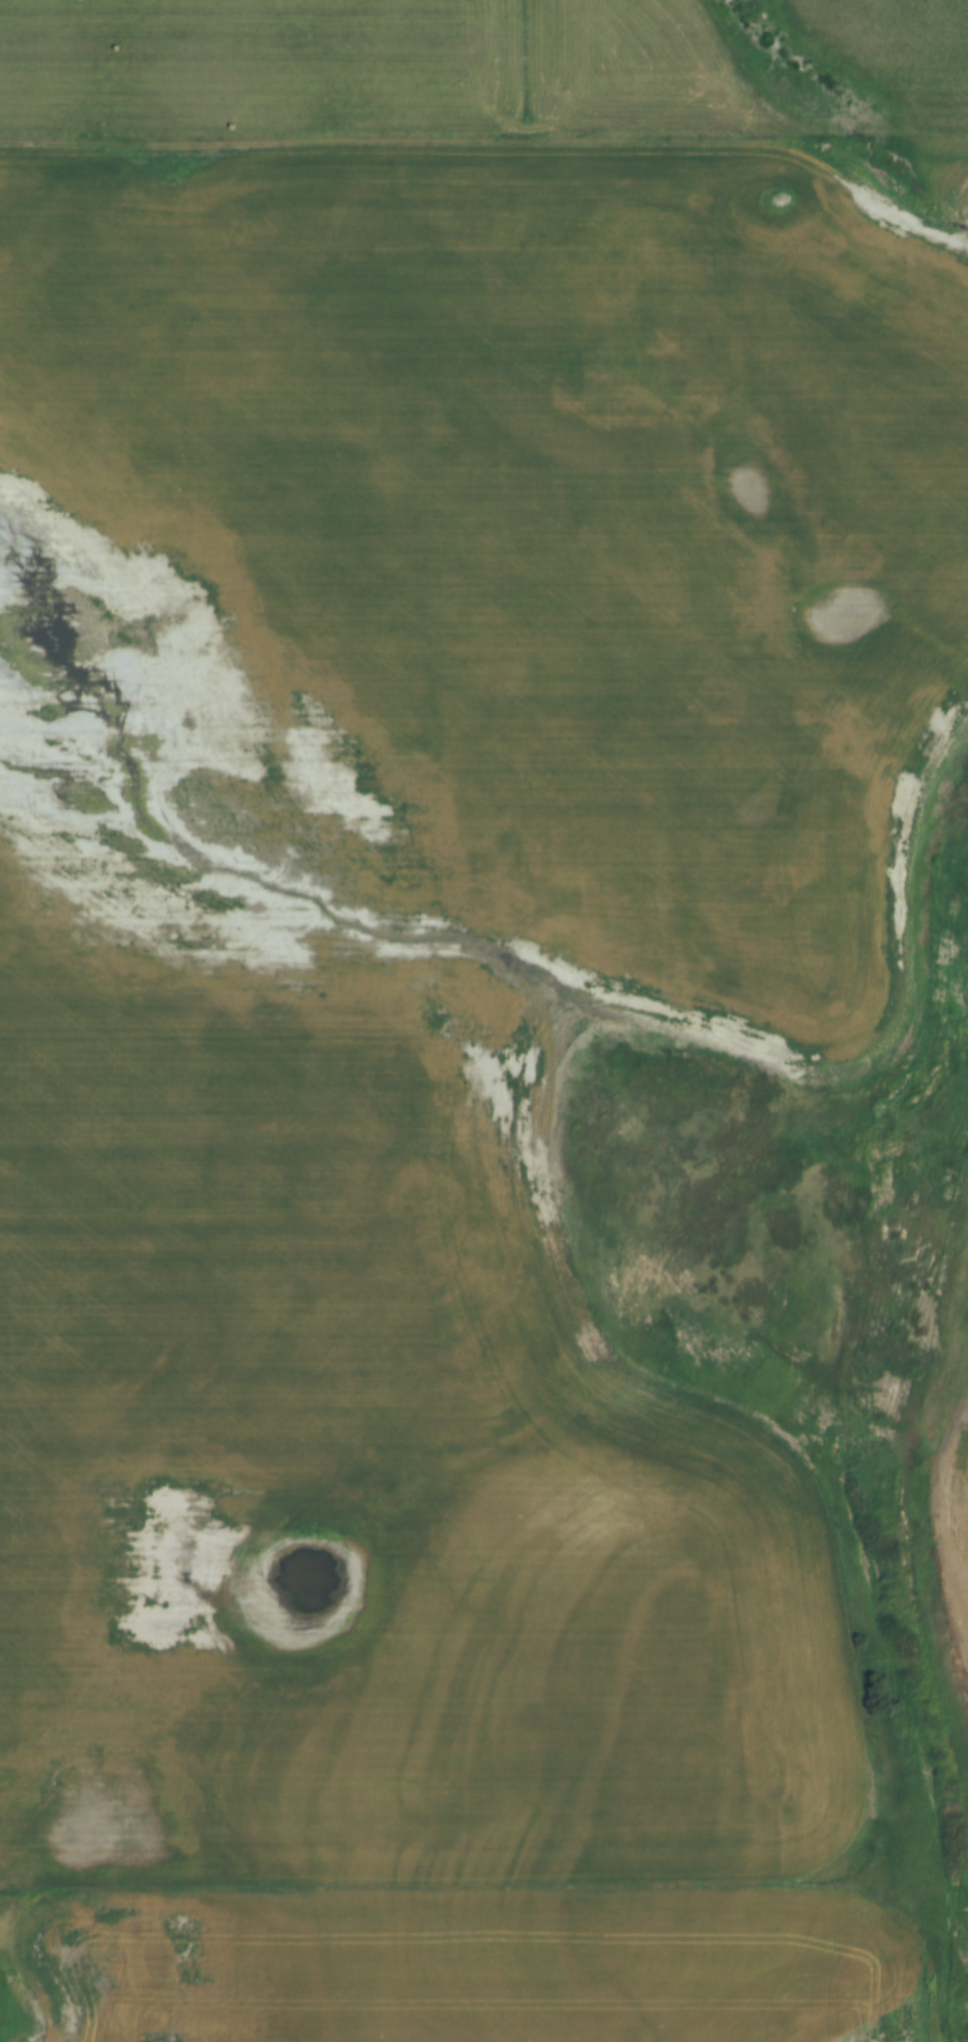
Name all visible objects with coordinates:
road: (405, 164)

